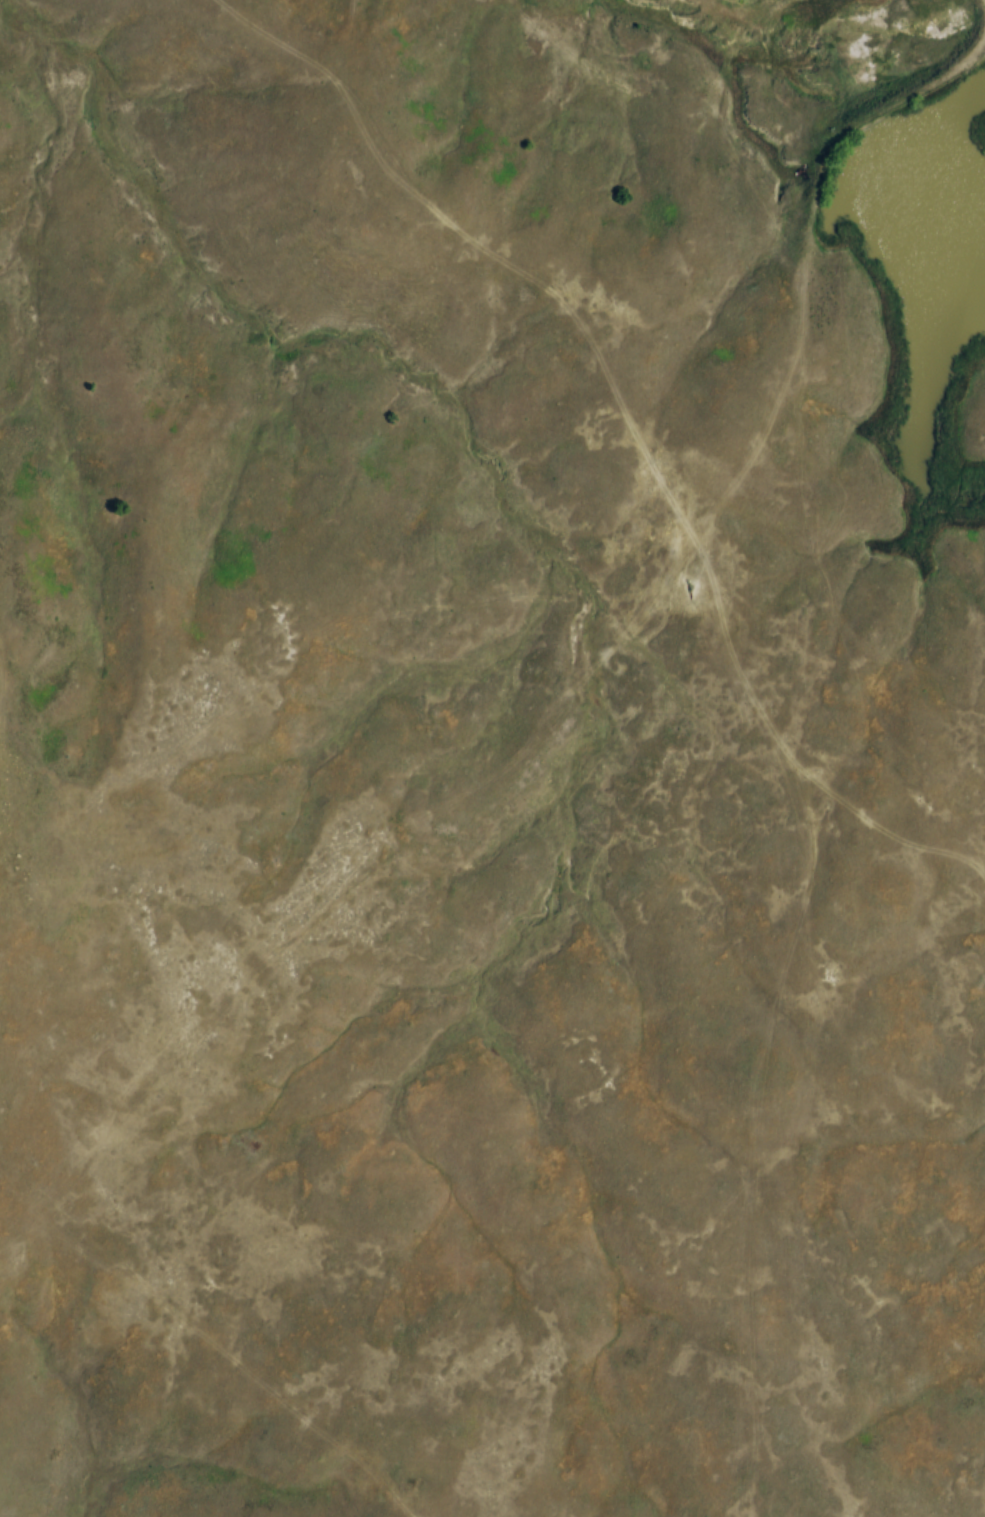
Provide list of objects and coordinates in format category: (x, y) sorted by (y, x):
road: (665, 112)
road: (735, 478)
road: (619, 644)
road: (757, 1140)
road: (210, 1341)
road: (775, 1465)

